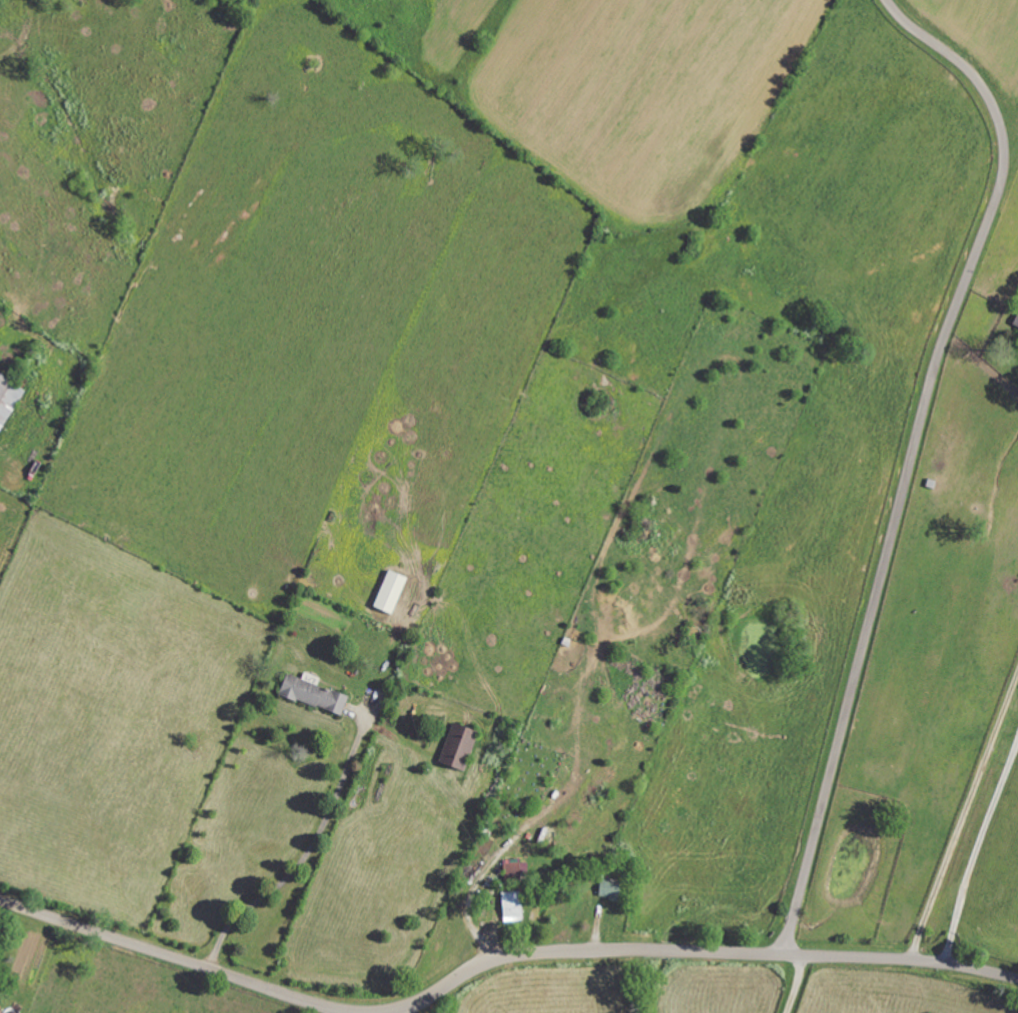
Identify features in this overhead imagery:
road: (21, 35)
building: (1015, 321)
road: (24, 413)
road: (913, 455)
building: (395, 591)
building: (315, 693)
building: (462, 745)
road: (963, 816)
road: (978, 852)
road: (302, 856)
building: (510, 869)
building: (607, 889)
building: (509, 906)
road: (696, 953)
road: (176, 959)
road: (795, 985)

